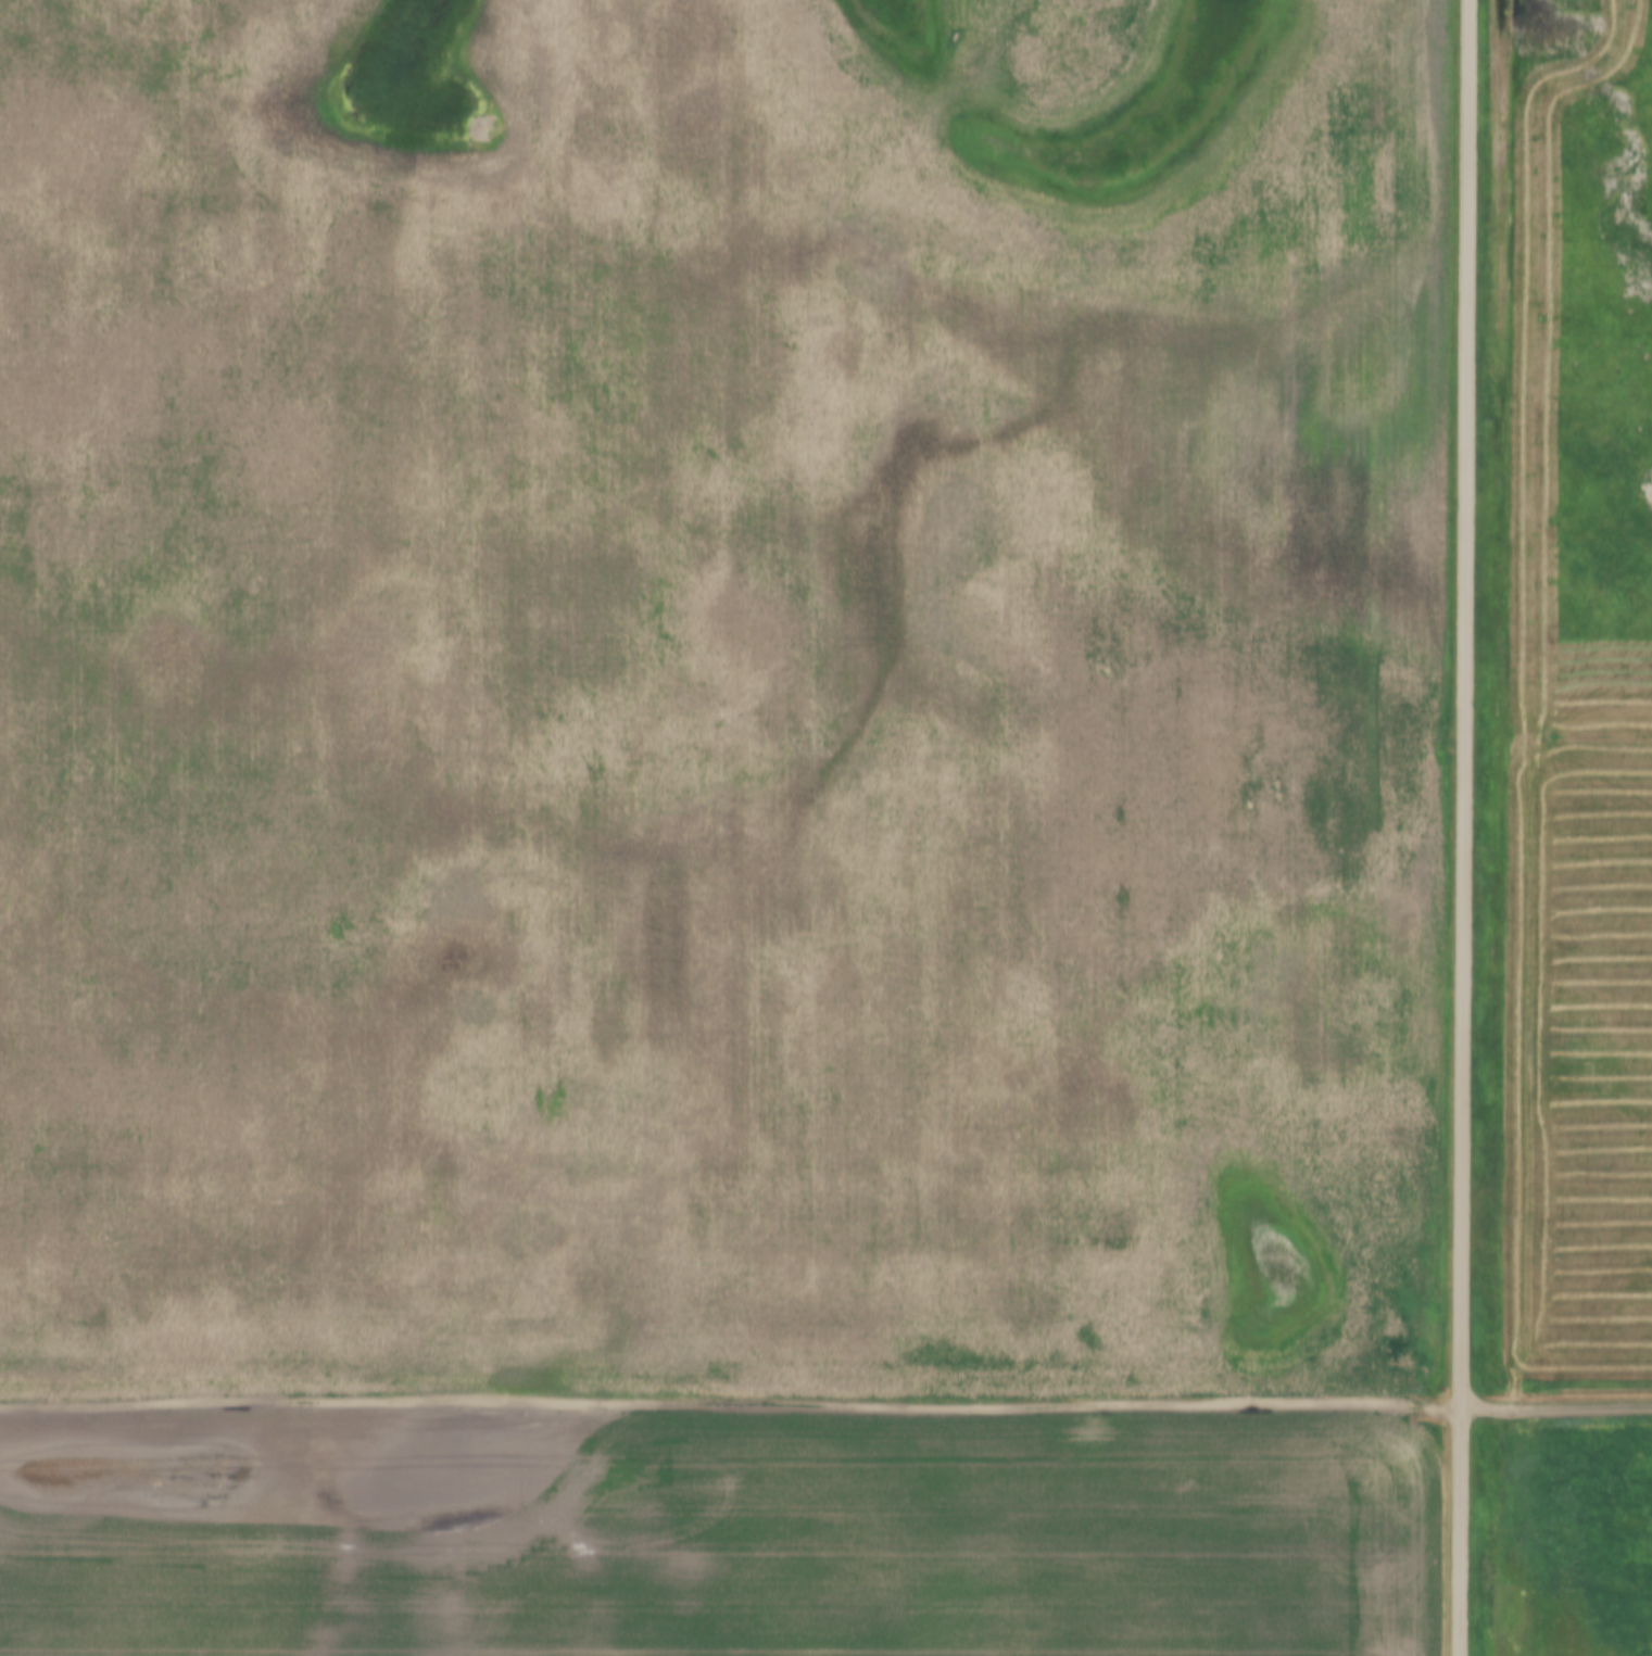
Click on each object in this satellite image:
road: (1467, 827)
road: (824, 1402)

